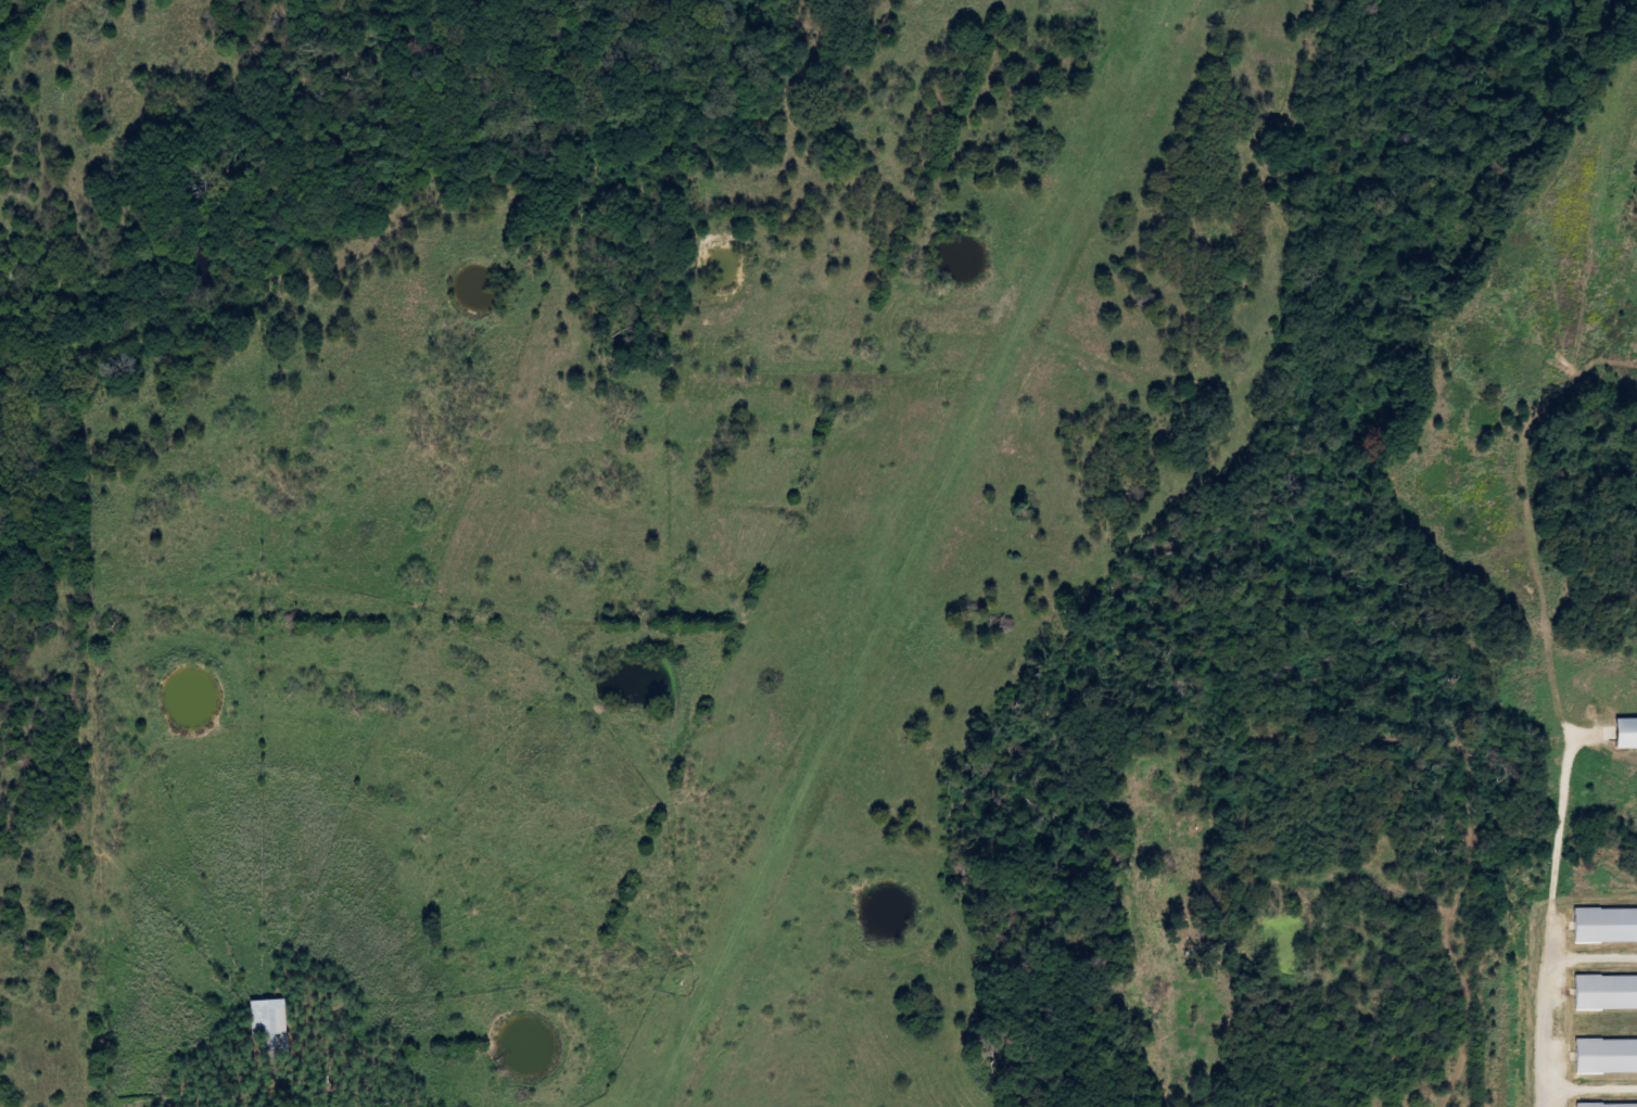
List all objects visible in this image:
airport runway: (913, 553)
building: (1627, 734)
building: (1607, 925)
building: (1607, 992)
building: (274, 1025)
building: (1607, 1056)
building: (1609, 1105)

